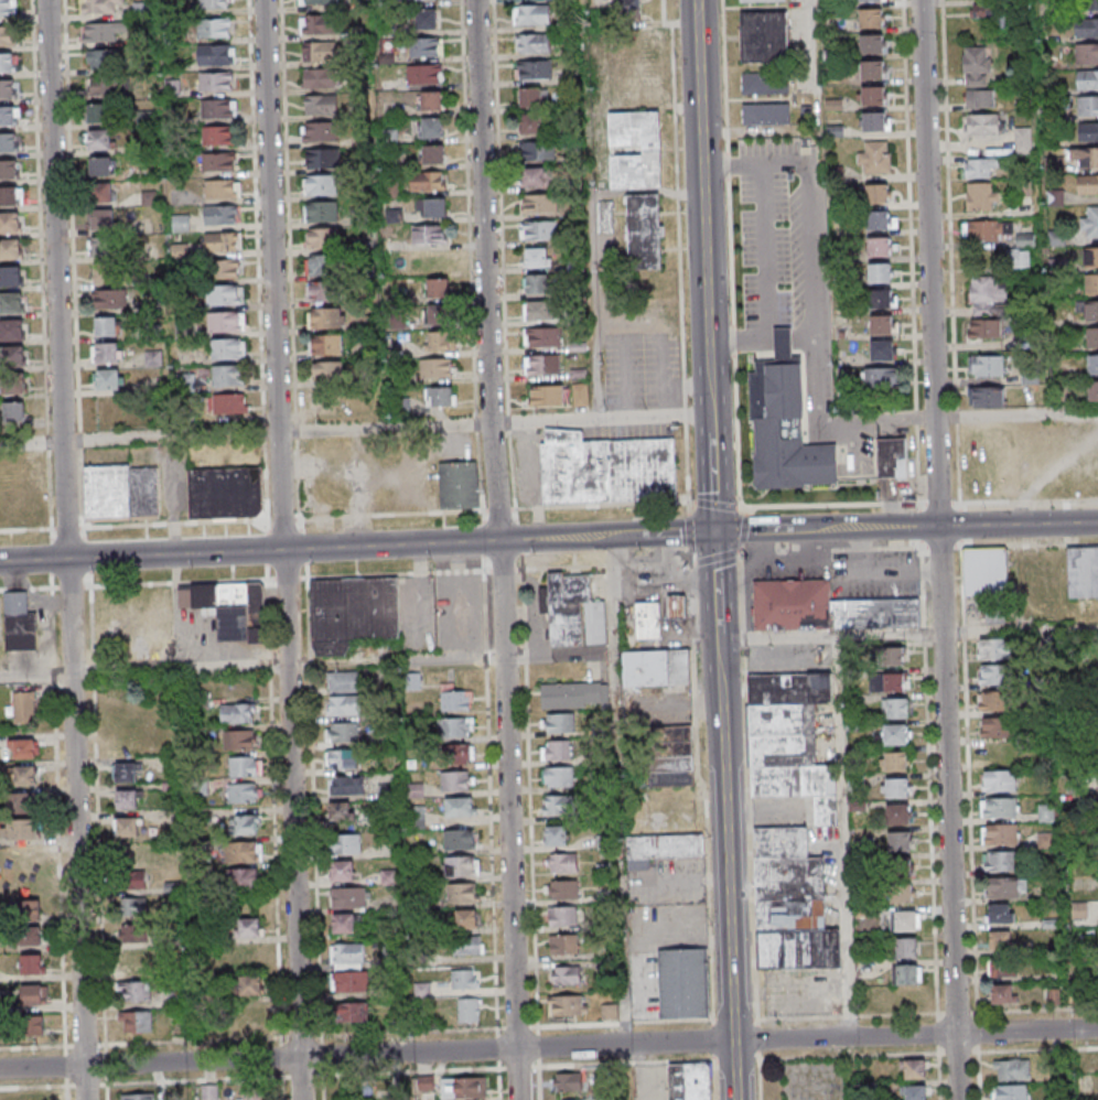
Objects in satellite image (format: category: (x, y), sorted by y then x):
building: (763, 0)
building: (871, 0)
building: (317, 1)
building: (215, 3)
building: (1090, 6)
building: (103, 7)
building: (628, 7)
building: (9, 9)
building: (989, 12)
building: (531, 14)
building: (872, 18)
building: (426, 19)
building: (319, 24)
building: (214, 28)
building: (1086, 29)
building: (101, 32)
building: (764, 36)
building: (10, 37)
building: (532, 43)
building: (872, 44)
building: (423, 47)
building: (319, 52)
building: (215, 54)
building: (1086, 54)
building: (106, 60)
building: (8, 64)
building: (976, 67)
building: (649, 68)
building: (534, 69)
building: (873, 69)
building: (423, 75)
road: (723, 76)
building: (319, 77)
building: (1086, 79)
building: (216, 82)
building: (765, 84)
building: (105, 86)
building: (8, 90)
building: (873, 95)
building: (531, 97)
building: (980, 100)
building: (431, 101)
building: (321, 104)
building: (1087, 105)
building: (218, 108)
building: (104, 115)
building: (765, 115)
building: (9, 118)
building: (873, 121)
building: (531, 125)
building: (982, 127)
building: (431, 128)
building: (322, 130)
building: (1087, 131)
building: (218, 134)
building: (105, 141)
building: (1022, 141)
building: (10, 144)
building: (538, 152)
building: (655, 152)
building: (432, 154)
building: (1084, 155)
building: (324, 157)
building: (875, 158)
building: (217, 161)
road: (726, 165)
building: (106, 168)
building: (979, 169)
building: (10, 171)
building: (537, 177)
building: (428, 181)
building: (1087, 183)
building: (323, 184)
building: (220, 188)
building: (878, 193)
building: (106, 194)
building: (1054, 196)
road: (703, 197)
building: (12, 198)
building: (149, 198)
building: (981, 198)
building: (539, 204)
building: (431, 208)
building: (324, 211)
building: (219, 214)
building: (881, 219)
building: (1090, 220)
building: (107, 222)
building: (181, 224)
building: (13, 225)
building: (538, 230)
building: (997, 233)
building: (647, 234)
building: (429, 235)
building: (324, 237)
building: (1056, 237)
building: (220, 241)
building: (879, 246)
building: (109, 249)
road: (730, 250)
building: (13, 251)
road: (678, 255)
building: (1090, 256)
building: (536, 258)
building: (1020, 258)
building: (325, 265)
building: (227, 270)
building: (880, 272)
building: (108, 274)
building: (14, 279)
building: (1091, 283)
building: (536, 284)
building: (438, 289)
building: (326, 291)
building: (987, 291)
building: (225, 296)
building: (881, 298)
building: (110, 301)
building: (15, 304)
building: (537, 311)
building: (1091, 311)
building: (434, 314)
building: (326, 316)
building: (224, 323)
building: (882, 324)
building: (110, 328)
building: (984, 330)
building: (15, 333)
building: (542, 336)
building: (1091, 337)
road: (733, 339)
building: (327, 344)
building: (227, 349)
building: (883, 349)
building: (112, 355)
building: (17, 358)
building: (542, 365)
building: (1091, 365)
building: (987, 367)
building: (435, 368)
building: (329, 370)
building: (227, 377)
building: (112, 381)
building: (883, 381)
building: (18, 386)
building: (1092, 391)
building: (580, 393)
building: (547, 395)
building: (440, 397)
building: (987, 398)
building: (229, 406)
building: (13, 412)
road: (1016, 414)
road: (603, 418)
building: (788, 427)
road: (390, 429)
road: (736, 431)
road: (175, 438)
road: (33, 443)
building: (1047, 451)
building: (892, 459)
road: (713, 463)
building: (605, 467)
building: (459, 485)
building: (22, 486)
building: (122, 494)
building: (230, 494)
road: (714, 505)
road: (741, 509)
road: (346, 517)
road: (955, 526)
road: (743, 529)
road: (688, 530)
road: (763, 531)
traffic signals: (715, 532)
road: (664, 533)
road: (72, 549)
road: (289, 549)
road: (305, 549)
road: (506, 549)
road: (944, 549)
road: (718, 553)
road: (692, 561)
road: (643, 563)
building: (1081, 573)
road: (674, 578)
building: (988, 581)
road: (718, 594)
building: (229, 607)
building: (825, 608)
building: (680, 610)
building: (577, 612)
building: (357, 614)
building: (650, 622)
building: (20, 623)
road: (891, 635)
road: (777, 638)
building: (993, 649)
building: (894, 656)
building: (655, 666)
road: (147, 667)
building: (992, 676)
building: (343, 681)
building: (415, 681)
building: (889, 681)
building: (572, 694)
building: (454, 698)
building: (992, 702)
building: (343, 704)
building: (23, 708)
building: (896, 708)
building: (238, 713)
building: (559, 722)
building: (455, 726)
building: (997, 727)
building: (342, 732)
building: (893, 734)
building: (790, 740)
building: (239, 741)
building: (22, 748)
building: (557, 749)
building: (456, 753)
building: (669, 755)
building: (342, 757)
building: (894, 761)
building: (245, 767)
building: (126, 773)
building: (23, 776)
building: (558, 776)
building: (456, 780)
building: (999, 780)
building: (346, 784)
road: (61, 787)
building: (895, 787)
building: (170, 789)
building: (416, 789)
building: (385, 791)
building: (243, 794)
building: (127, 800)
building: (23, 801)
building: (560, 804)
building: (460, 807)
building: (1000, 807)
building: (338, 810)
building: (1046, 812)
building: (897, 813)
building: (416, 815)
road: (624, 818)
road: (706, 822)
building: (244, 824)
building: (126, 828)
building: (29, 830)
building: (1000, 833)
building: (557, 834)
building: (459, 839)
road: (103, 840)
building: (604, 841)
building: (898, 841)
building: (346, 845)
building: (661, 849)
building: (244, 851)
building: (562, 861)
building: (1000, 861)
building: (21, 863)
building: (461, 865)
road: (847, 867)
building: (138, 869)
building: (343, 872)
road: (728, 877)
building: (245, 878)
building: (900, 880)
building: (1005, 887)
building: (561, 888)
building: (462, 892)
building: (349, 896)
building: (790, 903)
building: (134, 907)
building: (25, 908)
building: (1001, 914)
building: (562, 916)
building: (465, 920)
building: (904, 920)
building: (347, 923)
building: (249, 928)
building: (29, 935)
building: (133, 935)
building: (1000, 941)
building: (563, 942)
building: (467, 946)
building: (904, 947)
building: (606, 952)
building: (347, 955)
building: (247, 957)
building: (137, 961)
building: (32, 964)
building: (1001, 967)
building: (905, 973)
building: (567, 974)
building: (463, 979)
building: (351, 981)
building: (683, 981)
building: (249, 986)
building: (422, 989)
building: (136, 992)
building: (1002, 993)
building: (33, 994)
building: (1054, 995)
building: (564, 1006)
building: (467, 1010)
building: (610, 1010)
building: (352, 1012)
building: (421, 1017)
building: (136, 1022)
building: (32, 1025)
road: (548, 1047)
building: (913, 1069)
building: (1011, 1070)
building: (424, 1081)
building: (569, 1081)
building: (690, 1081)
building: (463, 1088)
building: (209, 1092)
building: (252, 1092)
building: (914, 1092)
building: (1010, 1092)
building: (34, 1097)
building: (138, 1097)

